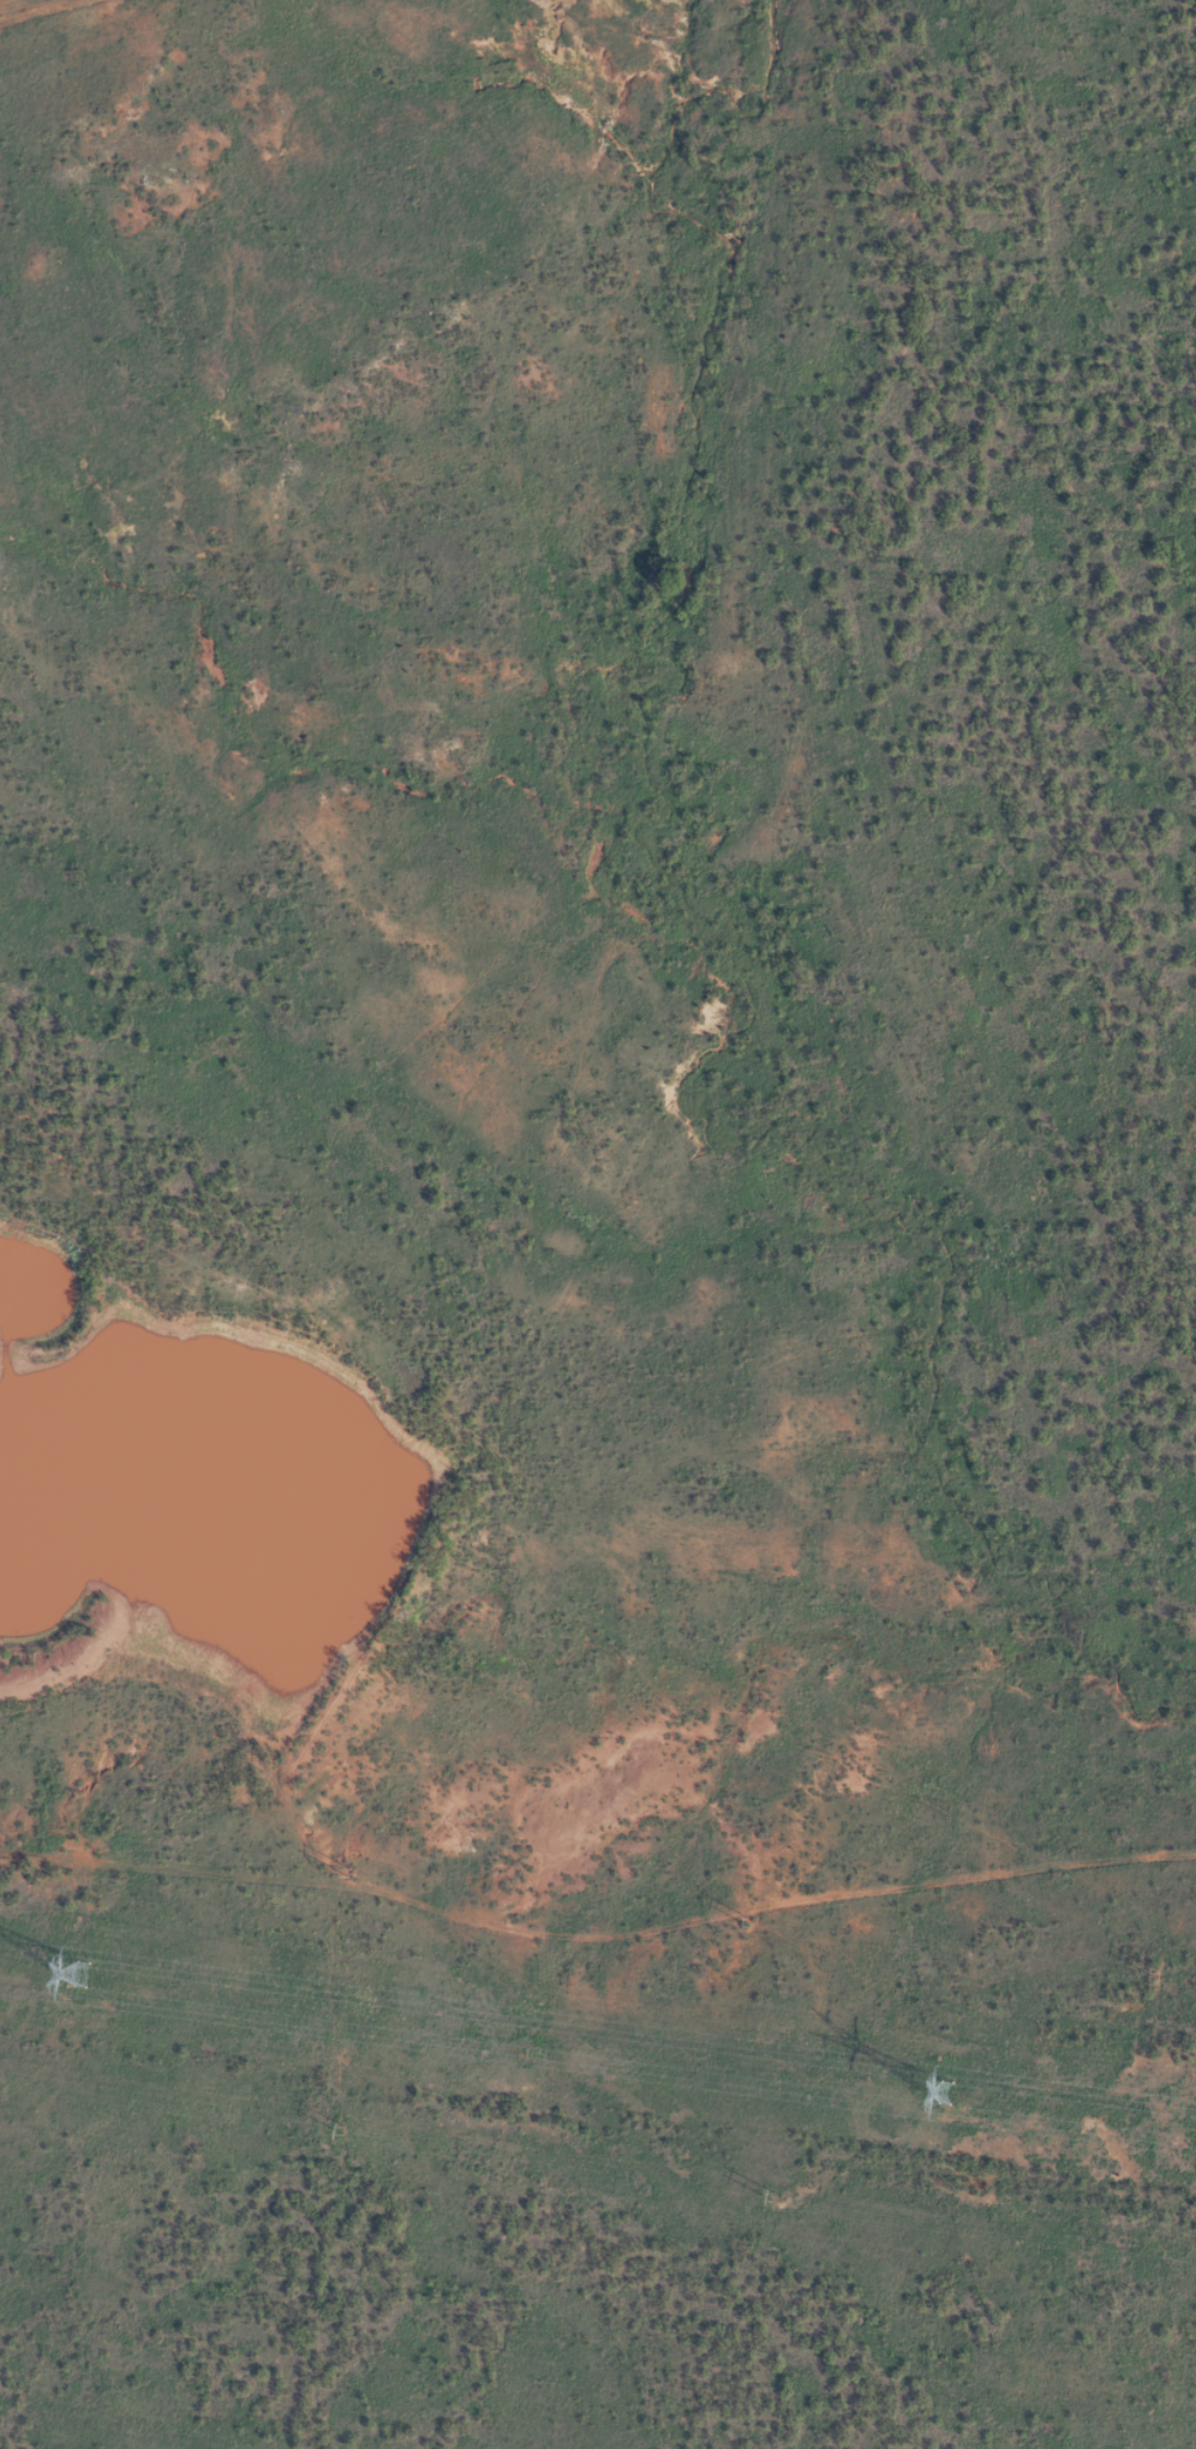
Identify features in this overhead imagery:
power tower: (347, 1873)
power tower: (748, 1922)
power tower: (71, 1970)
power tower: (1152, 1975)
power tower: (933, 2079)
power tower: (341, 2131)
power tower: (776, 2198)

